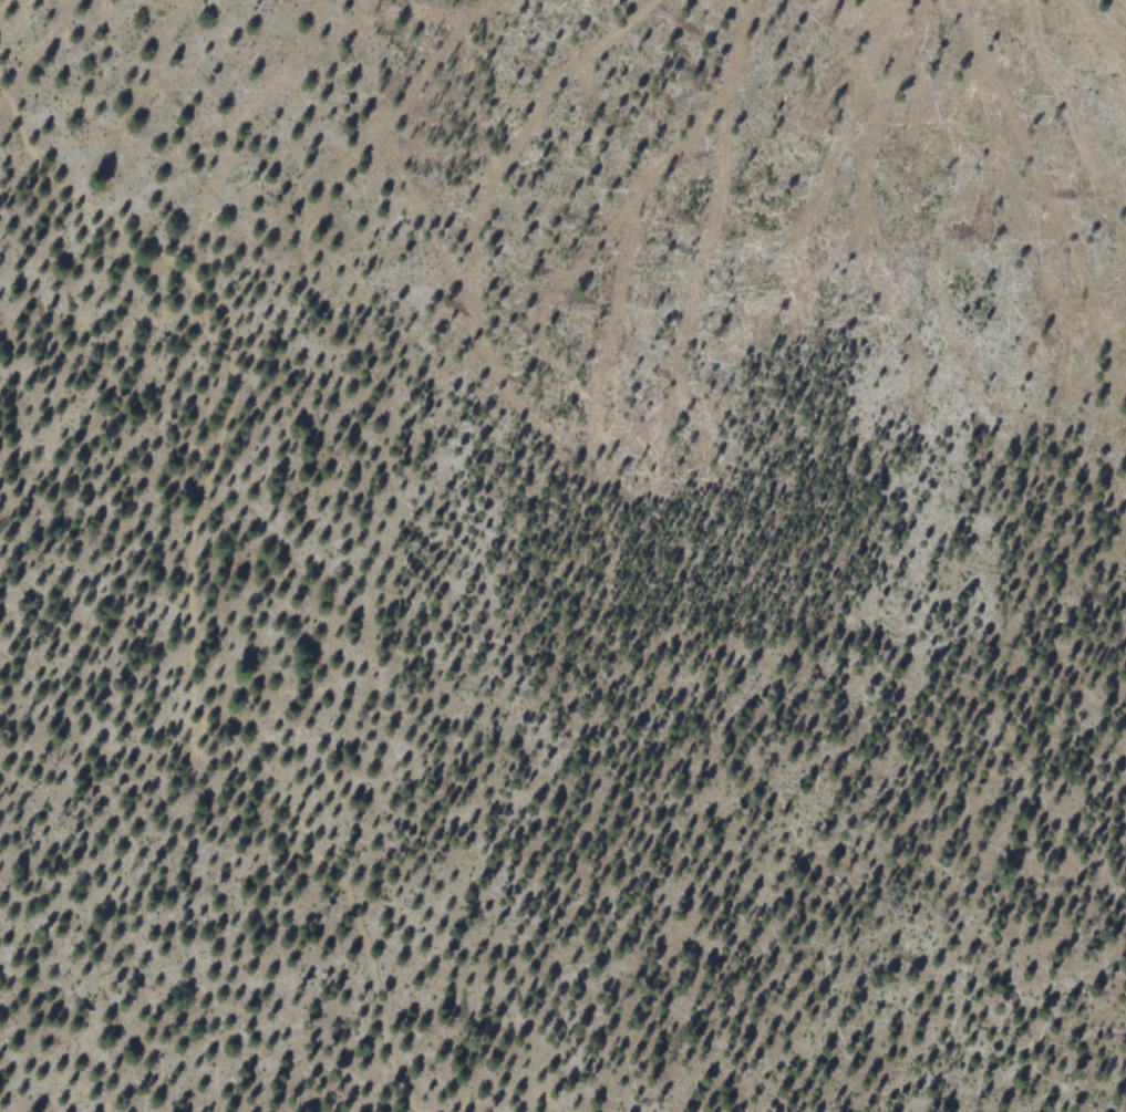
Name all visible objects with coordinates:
road: (7, 11)
road: (183, 567)
road: (279, 938)

